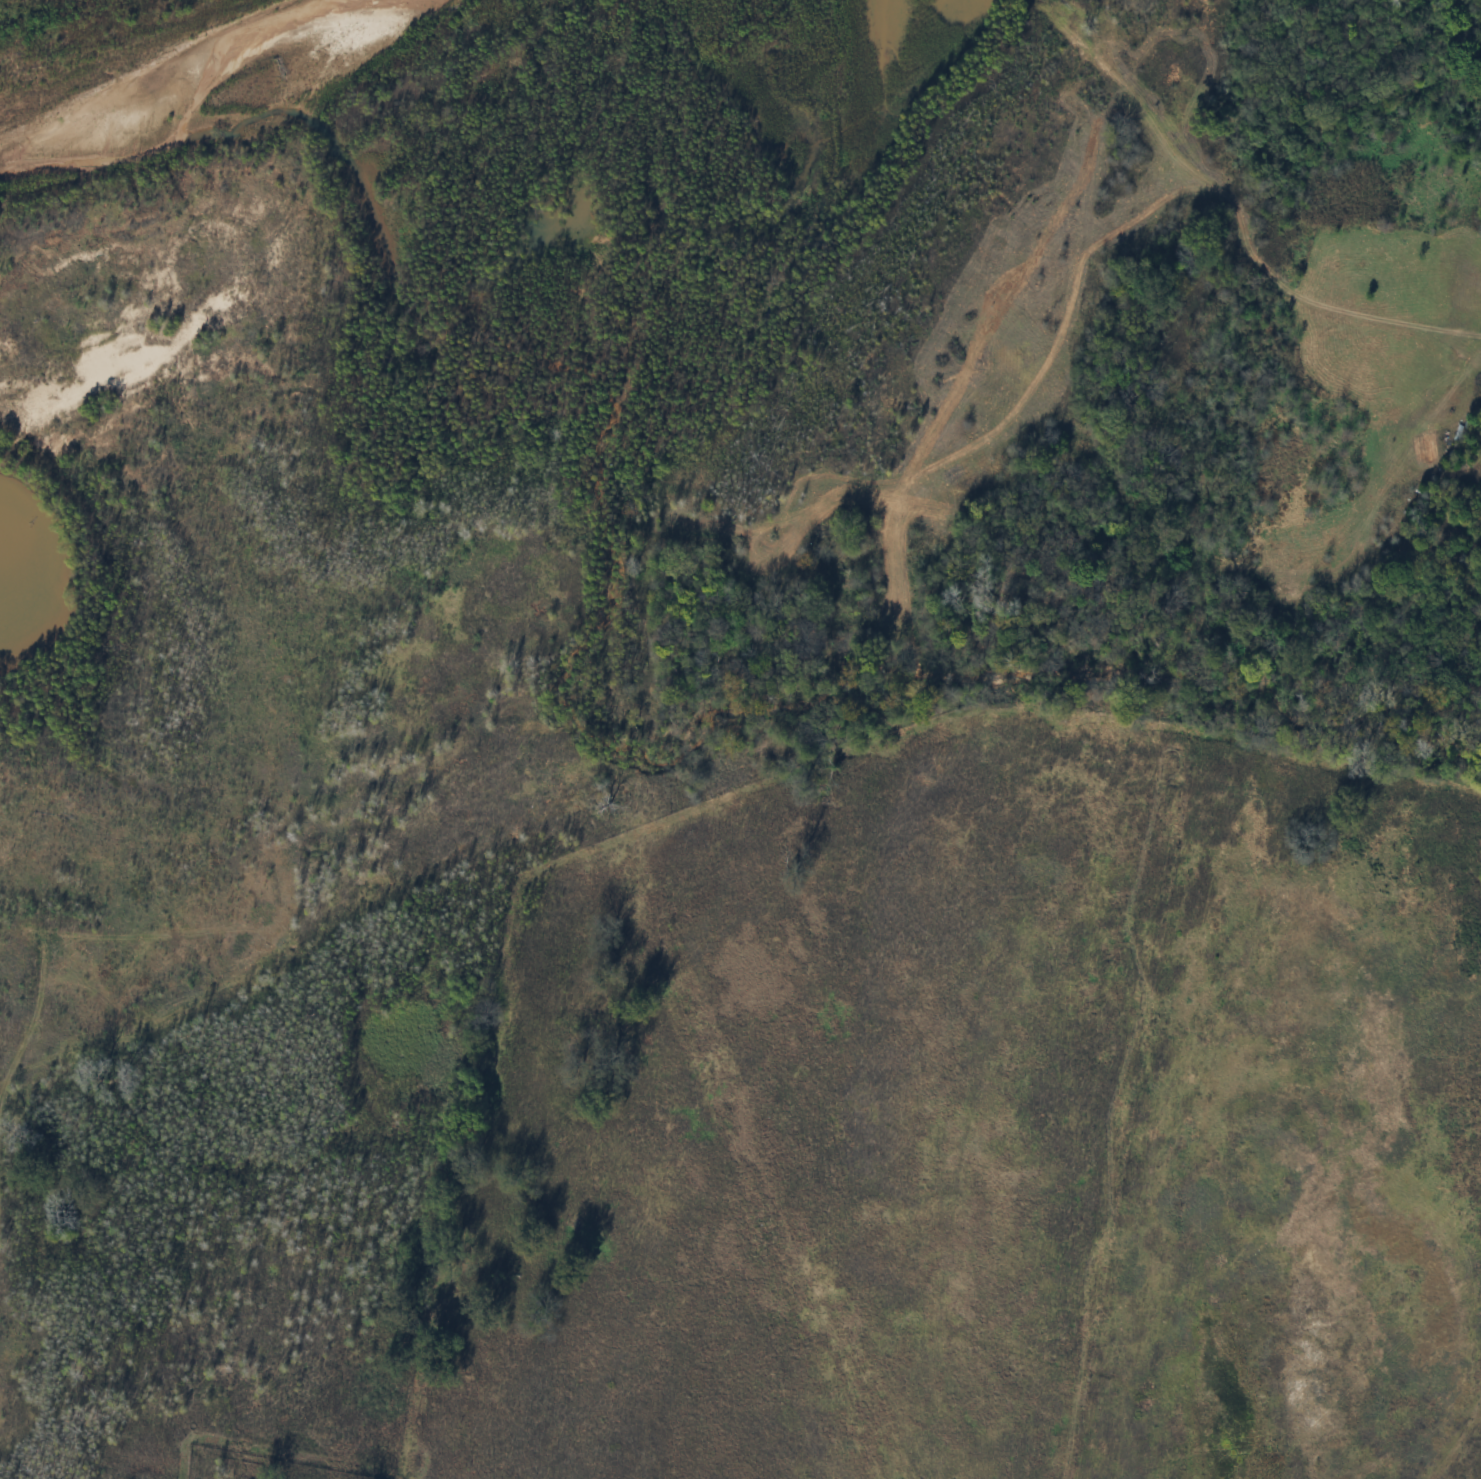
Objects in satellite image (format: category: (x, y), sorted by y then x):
road: (1459, 1445)

